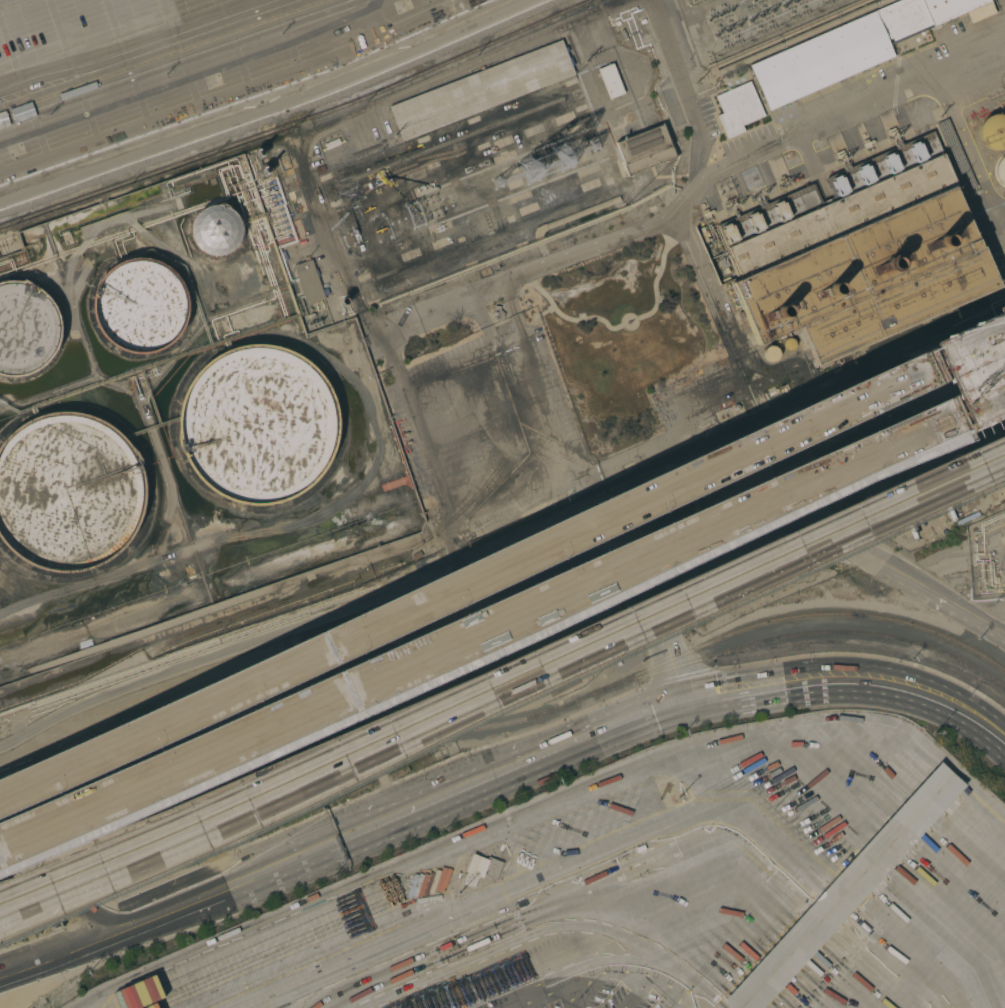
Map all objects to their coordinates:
power substation: (747, 23)
building: (852, 47)
building: (610, 81)
building: (482, 90)
building: (737, 109)
building: (993, 132)
building: (645, 150)
building: (954, 156)
building: (1000, 170)
power substation: (472, 190)
building: (216, 228)
storage tank: (216, 228)
chimney: (922, 248)
building: (859, 253)
chimney: (870, 264)
building: (309, 282)
chimney: (816, 286)
power plant: (474, 300)
building: (139, 306)
storage tank: (139, 306)
chimney: (764, 306)
building: (498, 314)
building: (26, 328)
storage tank: (26, 328)
building: (789, 344)
building: (770, 354)
building: (257, 425)
storage tank: (257, 425)
building: (68, 492)
storage tank: (68, 492)
road: (779, 493)
road: (769, 524)
road: (503, 566)
railway: (796, 616)
railway: (800, 635)
road: (925, 695)
road: (278, 724)
railway: (295, 733)
road: (412, 805)
building: (481, 869)
building: (845, 890)

